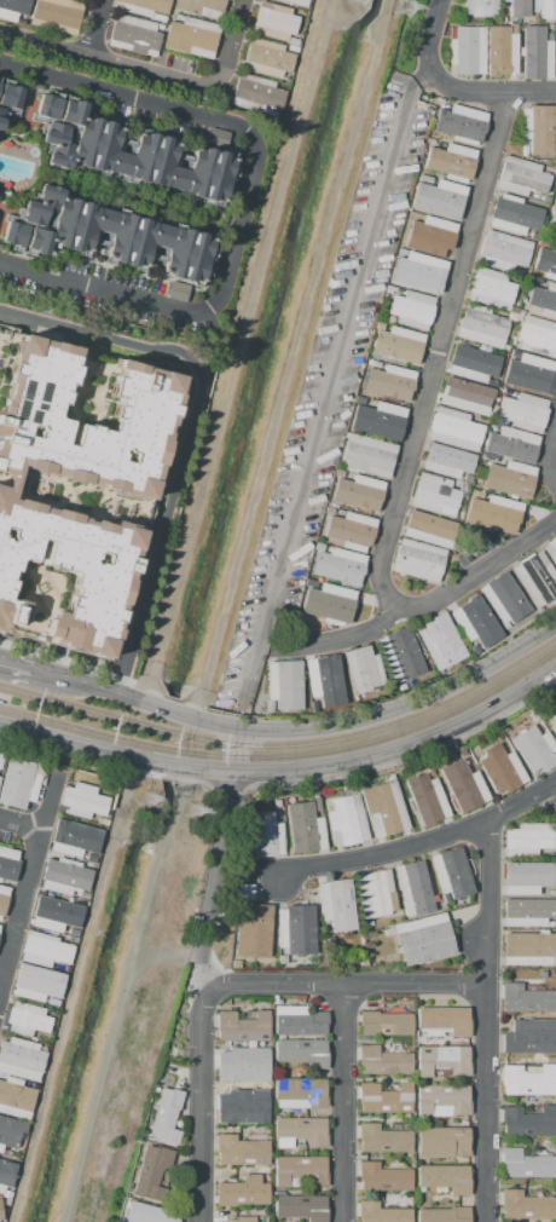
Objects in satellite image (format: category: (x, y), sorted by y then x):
building: (296, 2)
building: (143, 7)
building: (201, 7)
building: (480, 7)
building: (517, 7)
building: (545, 8)
building: (15, 10)
power tower: (398, 12)
building: (57, 15)
building: (158, 17)
building: (178, 18)
building: (503, 21)
building: (276, 22)
road: (323, 24)
building: (520, 27)
building: (550, 27)
road: (100, 28)
building: (133, 35)
building: (191, 38)
road: (430, 38)
road: (233, 46)
building: (467, 50)
building: (555, 52)
building: (535, 53)
building: (499, 54)
building: (267, 59)
road: (110, 60)
road: (491, 91)
building: (256, 94)
building: (8, 99)
building: (462, 125)
building: (537, 131)
building: (126, 152)
building: (451, 162)
building: (521, 177)
building: (425, 179)
building: (555, 185)
building: (439, 198)
building: (545, 201)
road: (245, 203)
park: (189, 213)
building: (514, 215)
building: (552, 217)
building: (429, 237)
building: (533, 237)
building: (111, 238)
building: (503, 250)
building: (399, 252)
building: (545, 263)
building: (419, 272)
building: (533, 279)
building: (491, 288)
building: (544, 300)
building: (522, 301)
building: (410, 310)
building: (520, 316)
building: (481, 327)
building: (537, 336)
building: (396, 344)
road: (438, 356)
building: (519, 356)
building: (471, 363)
building: (373, 364)
building: (534, 376)
building: (389, 382)
building: (494, 382)
road: (331, 387)
building: (467, 396)
building: (359, 400)
building: (523, 413)
building: (378, 421)
building: (454, 428)
road: (184, 431)
building: (511, 444)
building: (369, 455)
road: (549, 456)
building: (488, 459)
building: (447, 461)
building: (338, 473)
building: (468, 478)
building: (509, 479)
building: (456, 483)
building: (463, 483)
building: (133, 492)
building: (358, 492)
building: (435, 495)
building: (329, 509)
building: (493, 514)
building: (428, 529)
building: (351, 530)
building: (318, 547)
building: (551, 549)
building: (418, 559)
building: (340, 567)
building: (535, 578)
building: (309, 583)
building: (504, 599)
building: (329, 604)
road: (425, 605)
building: (473, 617)
building: (315, 626)
building: (439, 640)
building: (401, 655)
building: (363, 670)
road: (33, 674)
building: (324, 678)
building: (285, 685)
building: (401, 688)
railway: (64, 704)
building: (270, 705)
building: (532, 717)
building: (552, 722)
railway: (54, 724)
road: (319, 730)
building: (497, 736)
railway: (351, 738)
road: (65, 739)
building: (534, 749)
railway: (343, 750)
road: (239, 751)
road: (407, 756)
building: (1, 759)
road: (105, 763)
road: (353, 763)
building: (500, 769)
building: (18, 784)
building: (462, 786)
road: (227, 790)
building: (425, 799)
road: (521, 799)
building: (85, 801)
power tower: (152, 801)
building: (277, 803)
building: (317, 805)
building: (384, 809)
power tower: (198, 813)
building: (103, 822)
building: (347, 822)
road: (22, 828)
building: (305, 829)
building: (267, 835)
building: (75, 838)
building: (526, 840)
road: (382, 855)
building: (81, 857)
building: (7, 864)
building: (452, 875)
building: (66, 877)
building: (526, 877)
road: (215, 882)
road: (29, 884)
building: (413, 888)
building: (245, 892)
building: (551, 893)
building: (375, 894)
building: (2, 898)
building: (337, 904)
building: (528, 912)
building: (51, 913)
building: (369, 923)
building: (0, 928)
building: (296, 929)
building: (253, 930)
building: (389, 932)
building: (423, 939)
building: (529, 947)
building: (45, 950)
road: (166, 958)
building: (282, 959)
building: (390, 959)
building: (236, 963)
building: (52, 967)
building: (58, 968)
road: (343, 982)
building: (34, 985)
road: (121, 993)
building: (525, 999)
building: (52, 1002)
building: (27, 1020)
road: (485, 1020)
building: (297, 1021)
building: (442, 1021)
building: (384, 1024)
building: (243, 1026)
building: (528, 1037)
building: (33, 1038)
building: (423, 1039)
building: (302, 1051)
building: (174, 1054)
building: (21, 1059)
building: (383, 1061)
building: (442, 1061)
building: (243, 1065)
building: (527, 1082)
building: (300, 1093)
building: (17, 1097)
building: (384, 1099)
building: (442, 1101)
road: (341, 1102)
road: (199, 1106)
building: (243, 1107)
building: (273, 1116)
building: (166, 1117)
building: (527, 1122)
building: (405, 1123)
building: (10, 1132)
building: (299, 1134)
building: (382, 1140)
building: (444, 1140)
building: (4, 1151)
building: (242, 1151)
building: (8, 1153)
building: (525, 1164)
building: (300, 1171)
building: (151, 1172)
building: (6, 1175)
building: (382, 1178)
building: (445, 1178)
building: (243, 1192)
building: (7, 1194)
building: (7, 1201)
building: (401, 1203)
building: (384, 1204)
building: (525, 1205)
building: (301, 1206)
building: (1, 1211)
building: (149, 1214)
building: (381, 1214)
building: (444, 1215)
building: (244, 1220)
building: (262, 1220)

